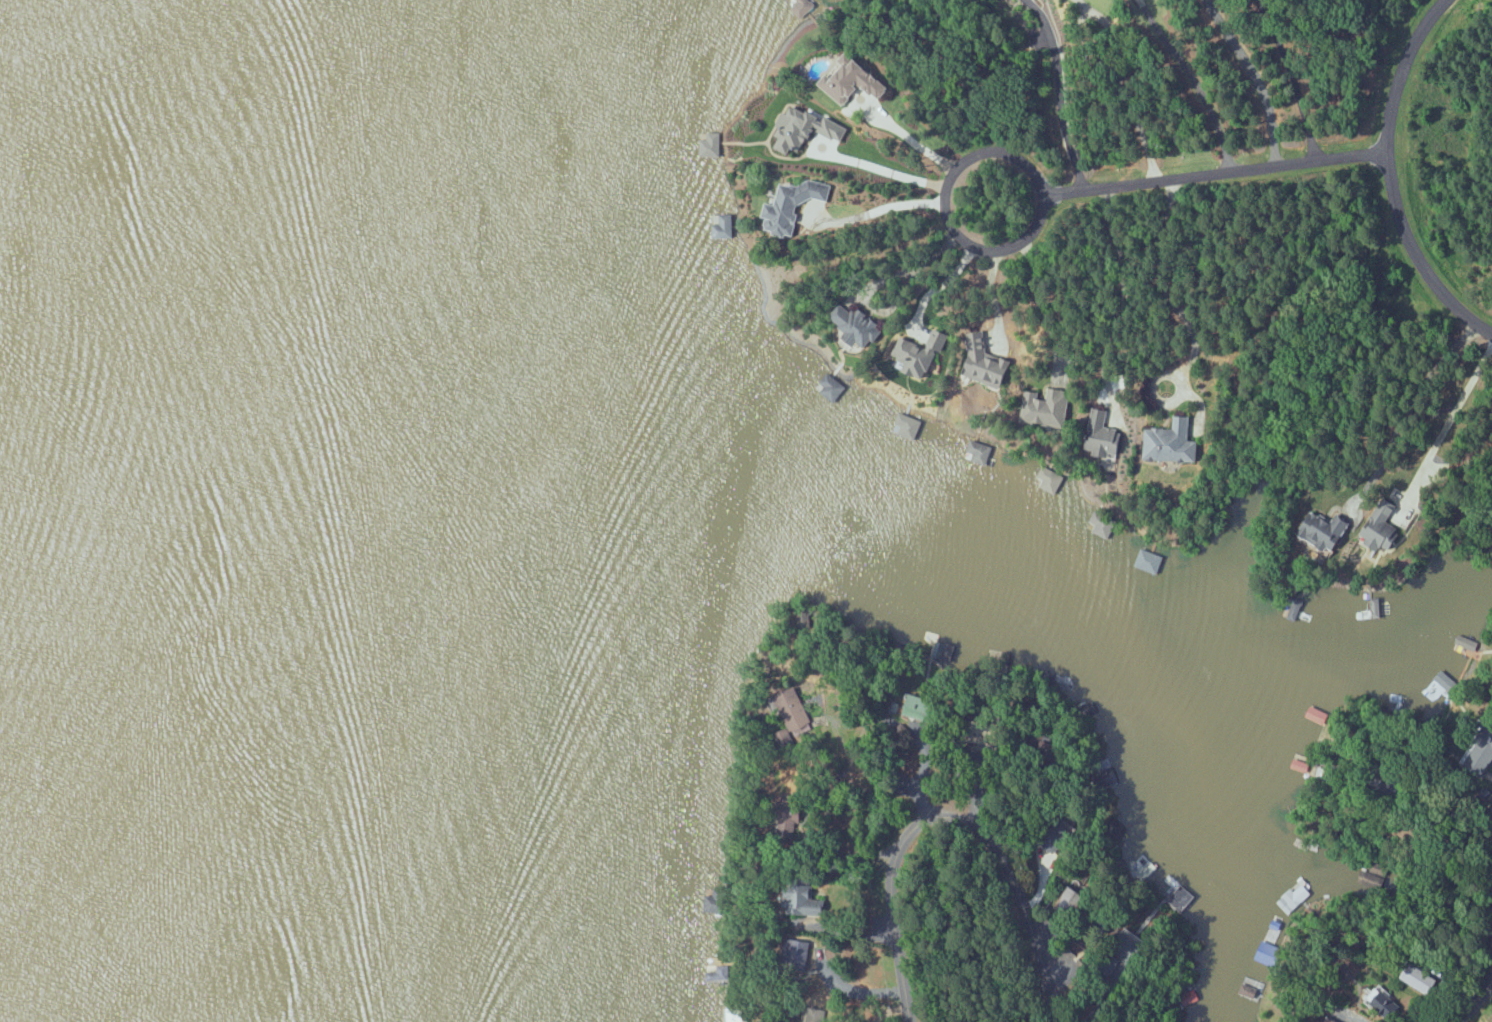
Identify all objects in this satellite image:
building: (801, 6)
road: (1194, 80)
building: (854, 81)
road: (1058, 94)
building: (805, 130)
building: (711, 144)
road: (1390, 177)
road: (1065, 195)
building: (792, 204)
building: (723, 226)
building: (857, 324)
building: (920, 352)
building: (987, 362)
building: (832, 386)
building: (1046, 406)
road: (1447, 423)
building: (907, 425)
building: (1105, 436)
building: (1178, 441)
building: (978, 452)
building: (1050, 479)
building: (1103, 523)
building: (1383, 527)
building: (1328, 530)
building: (1467, 643)
building: (1440, 686)
building: (920, 707)
building: (1319, 715)
road: (950, 816)
building: (1295, 897)
building: (711, 900)
building: (804, 907)
building: (1268, 953)
building: (1416, 978)
building: (1249, 990)
building: (1382, 999)
road: (1476, 1002)
building: (732, 1014)
building: (1331, 1020)

